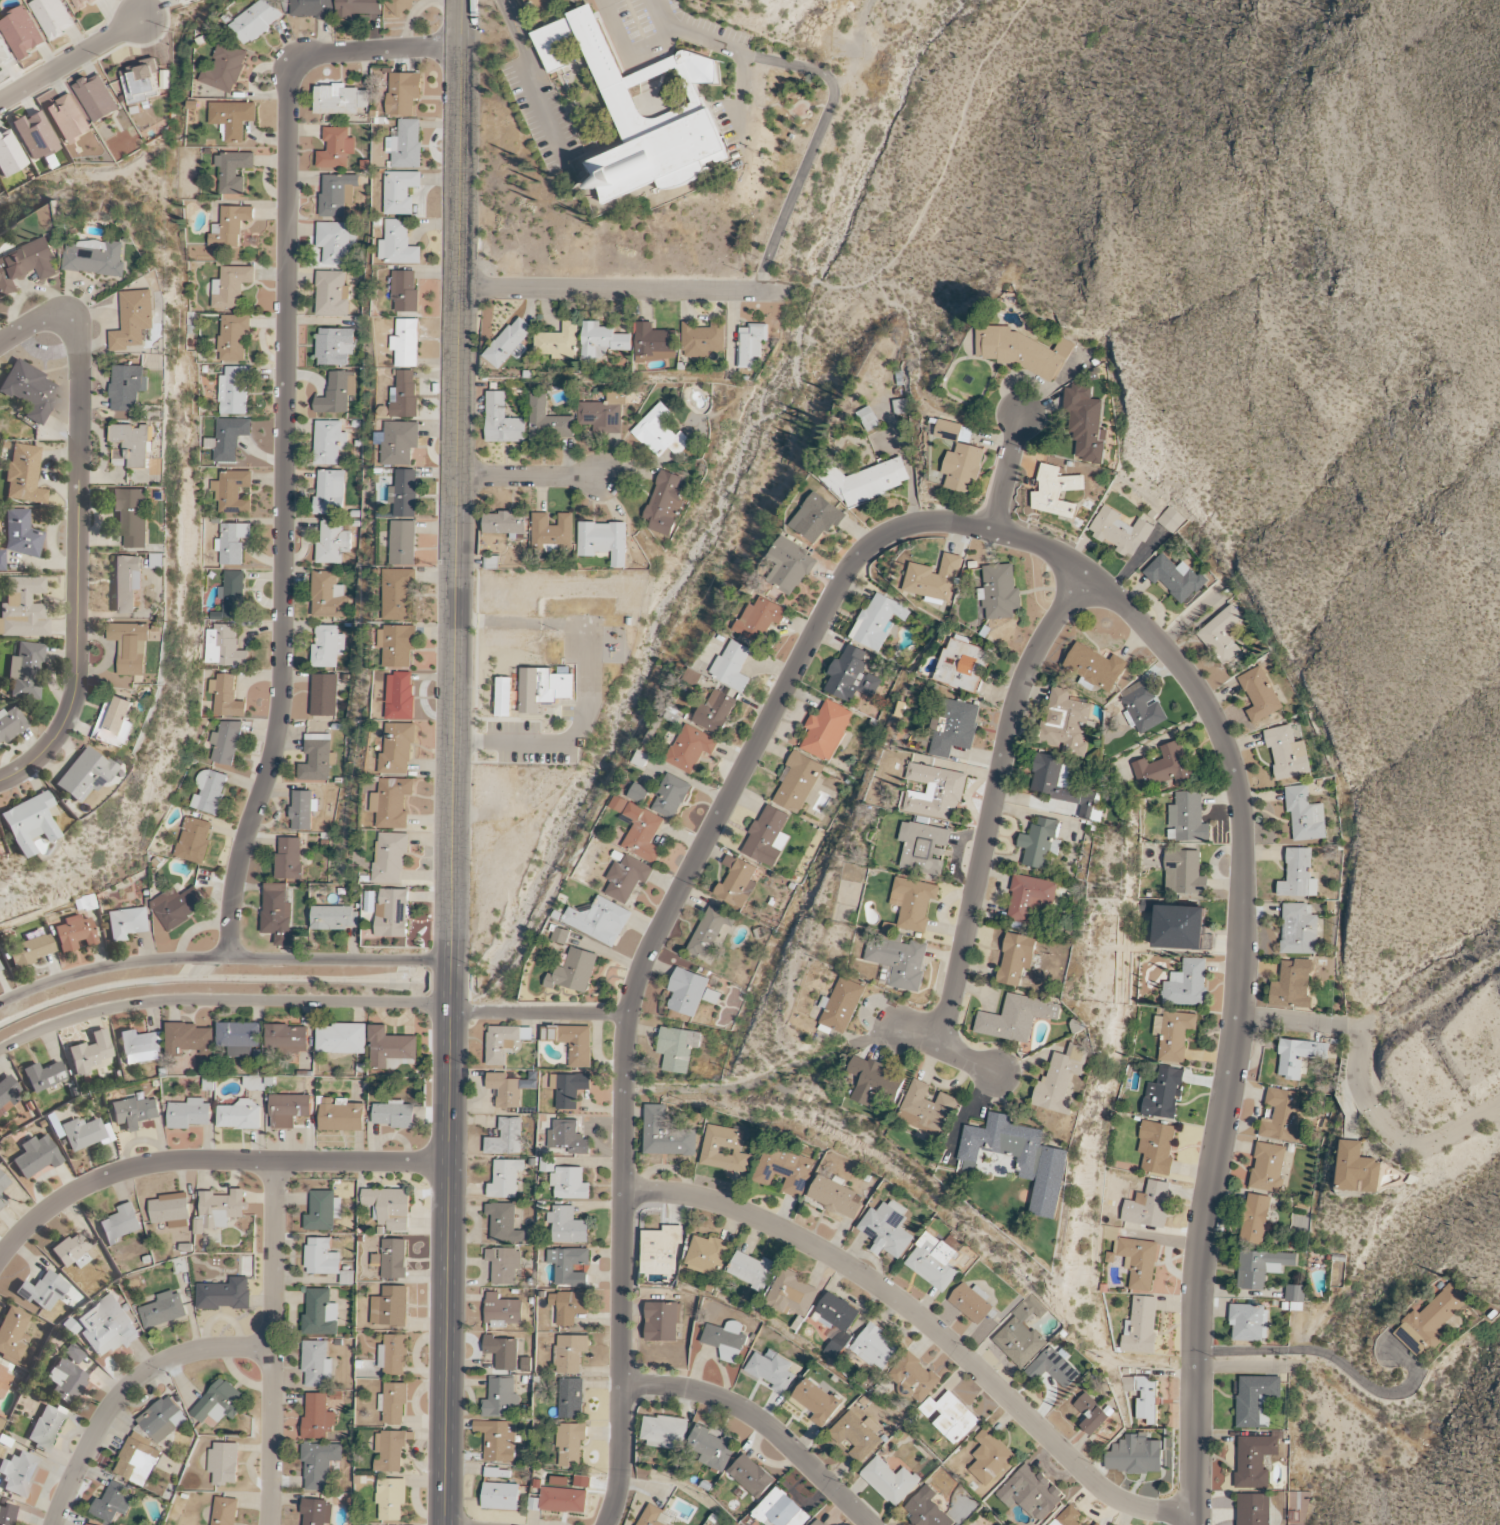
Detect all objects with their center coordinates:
building: (187, 1)
road: (502, 2)
road: (503, 2)
building: (83, 3)
building: (400, 5)
building: (357, 8)
building: (312, 9)
building: (52, 17)
building: (256, 20)
building: (21, 33)
road: (732, 49)
building: (3, 51)
road: (625, 56)
road: (71, 60)
building: (225, 68)
building: (141, 82)
road: (531, 84)
building: (404, 93)
building: (96, 98)
building: (341, 100)
building: (623, 106)
building: (232, 118)
building: (67, 119)
building: (36, 136)
road: (817, 141)
building: (406, 144)
building: (335, 148)
building: (10, 155)
road: (944, 157)
building: (233, 171)
building: (400, 191)
building: (337, 194)
building: (230, 226)
building: (335, 243)
building: (398, 244)
building: (94, 257)
building: (26, 263)
building: (230, 286)
road: (630, 290)
road: (818, 290)
building: (405, 291)
building: (332, 294)
building: (133, 319)
road: (30, 325)
building: (233, 337)
road: (2, 339)
building: (703, 339)
building: (654, 340)
building: (560, 342)
building: (603, 342)
building: (406, 343)
building: (510, 343)
building: (751, 344)
building: (335, 346)
building: (1021, 351)
building: (128, 386)
building: (29, 390)
building: (233, 391)
building: (337, 393)
building: (405, 394)
building: (603, 413)
building: (868, 418)
building: (502, 421)
building: (547, 421)
building: (1086, 424)
road: (283, 427)
building: (953, 431)
building: (660, 433)
building: (229, 438)
building: (328, 442)
building: (399, 442)
building: (133, 445)
building: (963, 468)
road: (1007, 472)
building: (24, 474)
road: (531, 477)
road: (439, 479)
building: (864, 481)
building: (231, 491)
building: (330, 492)
building: (1055, 492)
building: (406, 493)
building: (665, 504)
road: (468, 506)
building: (131, 516)
building: (817, 518)
building: (1170, 520)
building: (503, 523)
building: (551, 530)
building: (1119, 531)
building: (20, 534)
building: (603, 541)
building: (333, 542)
building: (405, 542)
building: (231, 543)
building: (1, 560)
road: (77, 562)
building: (789, 566)
building: (1175, 578)
building: (934, 580)
building: (126, 582)
building: (999, 593)
building: (399, 594)
building: (232, 595)
building: (328, 596)
building: (23, 608)
building: (760, 619)
building: (878, 621)
building: (1221, 634)
building: (397, 645)
building: (223, 646)
building: (326, 646)
building: (129, 647)
building: (962, 665)
building: (733, 666)
building: (1095, 666)
building: (26, 671)
building: (852, 677)
building: (543, 688)
building: (1259, 694)
building: (324, 695)
building: (400, 696)
building: (226, 697)
building: (503, 697)
building: (1143, 707)
building: (715, 712)
building: (115, 722)
building: (1064, 723)
building: (11, 724)
building: (953, 727)
building: (826, 730)
building: (226, 743)
building: (690, 748)
building: (398, 749)
building: (1287, 753)
building: (316, 759)
building: (641, 759)
road: (454, 762)
building: (1164, 767)
building: (84, 775)
building: (797, 782)
building: (1064, 786)
building: (208, 791)
building: (935, 792)
building: (639, 793)
building: (670, 797)
road: (994, 801)
building: (395, 803)
building: (303, 810)
building: (1304, 814)
building: (1186, 818)
building: (28, 823)
building: (639, 829)
building: (767, 837)
building: (194, 840)
building: (1040, 843)
building: (923, 847)
building: (393, 857)
building: (289, 858)
building: (1183, 873)
building: (1298, 875)
building: (627, 878)
building: (737, 882)
building: (1029, 898)
building: (913, 903)
building: (178, 906)
building: (394, 913)
building: (278, 914)
building: (335, 917)
building: (599, 920)
building: (127, 923)
building: (1179, 927)
building: (1299, 929)
building: (710, 933)
building: (75, 934)
building: (560, 935)
road: (649, 944)
building: (31, 950)
road: (222, 958)
building: (1016, 958)
building: (899, 960)
building: (0, 968)
building: (574, 971)
road: (1238, 972)
building: (1187, 984)
building: (1292, 985)
building: (687, 992)
building: (711, 996)
road: (221, 999)
building: (840, 1006)
road: (539, 1013)
building: (1016, 1018)
road: (1340, 1026)
building: (1173, 1035)
building: (239, 1038)
building: (287, 1038)
building: (342, 1038)
building: (188, 1039)
building: (572, 1042)
building: (502, 1043)
building: (139, 1047)
building: (390, 1048)
building: (677, 1048)
road: (946, 1048)
building: (91, 1054)
building: (1298, 1056)
building: (43, 1076)
building: (1059, 1080)
building: (876, 1082)
building: (258, 1083)
building: (568, 1088)
building: (504, 1089)
building: (7, 1093)
building: (1162, 1093)
building: (926, 1108)
building: (288, 1109)
building: (134, 1113)
building: (189, 1114)
building: (393, 1114)
building: (240, 1115)
building: (341, 1115)
building: (1283, 1117)
building: (85, 1133)
building: (666, 1134)
building: (568, 1137)
building: (506, 1138)
road: (1430, 1145)
building: (1156, 1146)
building: (723, 1149)
building: (36, 1156)
building: (1020, 1158)
road: (209, 1161)
building: (1268, 1167)
building: (1356, 1169)
building: (783, 1170)
building: (505, 1179)
building: (3, 1182)
building: (569, 1183)
building: (835, 1196)
building: (2, 1202)
building: (1148, 1205)
building: (389, 1207)
building: (171, 1210)
building: (220, 1210)
building: (323, 1211)
building: (1254, 1219)
building: (503, 1223)
building: (120, 1224)
building: (568, 1225)
building: (886, 1229)
road: (432, 1241)
building: (74, 1249)
building: (661, 1251)
building: (706, 1254)
building: (321, 1257)
building: (394, 1258)
building: (933, 1261)
building: (1138, 1261)
building: (568, 1263)
building: (504, 1264)
building: (1261, 1267)
road: (460, 1269)
building: (752, 1270)
building: (43, 1291)
building: (1295, 1293)
building: (225, 1294)
building: (792, 1294)
building: (972, 1303)
building: (569, 1306)
building: (390, 1307)
building: (163, 1310)
building: (320, 1313)
building: (1430, 1320)
building: (662, 1322)
building: (837, 1322)
building: (1248, 1322)
road: (927, 1323)
building: (1140, 1326)
building: (107, 1327)
building: (1021, 1333)
building: (13, 1334)
building: (725, 1340)
road: (273, 1343)
building: (875, 1347)
building: (502, 1352)
building: (73, 1353)
building: (394, 1354)
road: (1338, 1359)
building: (317, 1363)
road: (1247, 1366)
building: (1054, 1367)
building: (771, 1370)
building: (914, 1377)
building: (4, 1380)
building: (66, 1382)
road: (127, 1389)
building: (1143, 1397)
building: (571, 1398)
building: (501, 1399)
building: (1256, 1399)
building: (817, 1401)
building: (220, 1402)
building: (393, 1403)
building: (1091, 1414)
building: (317, 1416)
building: (950, 1417)
building: (161, 1419)
road: (760, 1422)
building: (46, 1427)
building: (664, 1432)
building: (857, 1435)
building: (498, 1440)
building: (570, 1443)
building: (710, 1447)
building: (390, 1450)
building: (1135, 1455)
building: (990, 1457)
building: (1254, 1460)
building: (137, 1462)
building: (224, 1463)
building: (319, 1464)
building: (18, 1473)
building: (751, 1476)
building: (890, 1481)
building: (1031, 1492)
building: (501, 1497)
building: (391, 1498)
building: (563, 1500)
building: (113, 1503)
building: (1298, 1505)
building: (927, 1509)
building: (781, 1510)
building: (1254, 1510)
building: (224, 1511)
building: (317, 1512)
building: (7, 1514)
building: (652, 1516)
building: (1067, 1517)
building: (818, 1523)
building: (87, 1524)
building: (1098, 1524)

